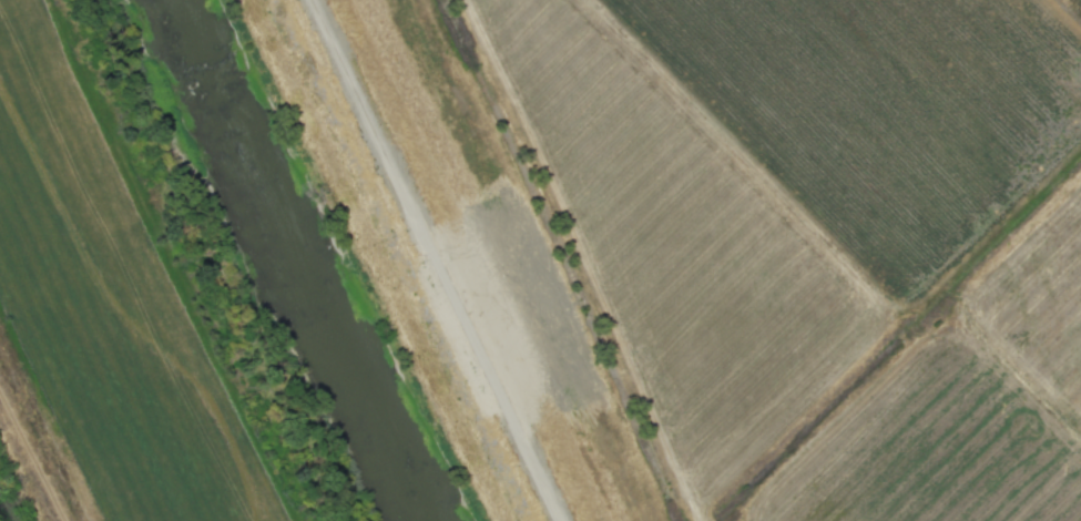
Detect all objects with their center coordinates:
crop: (765, 243)
crop: (124, 306)

